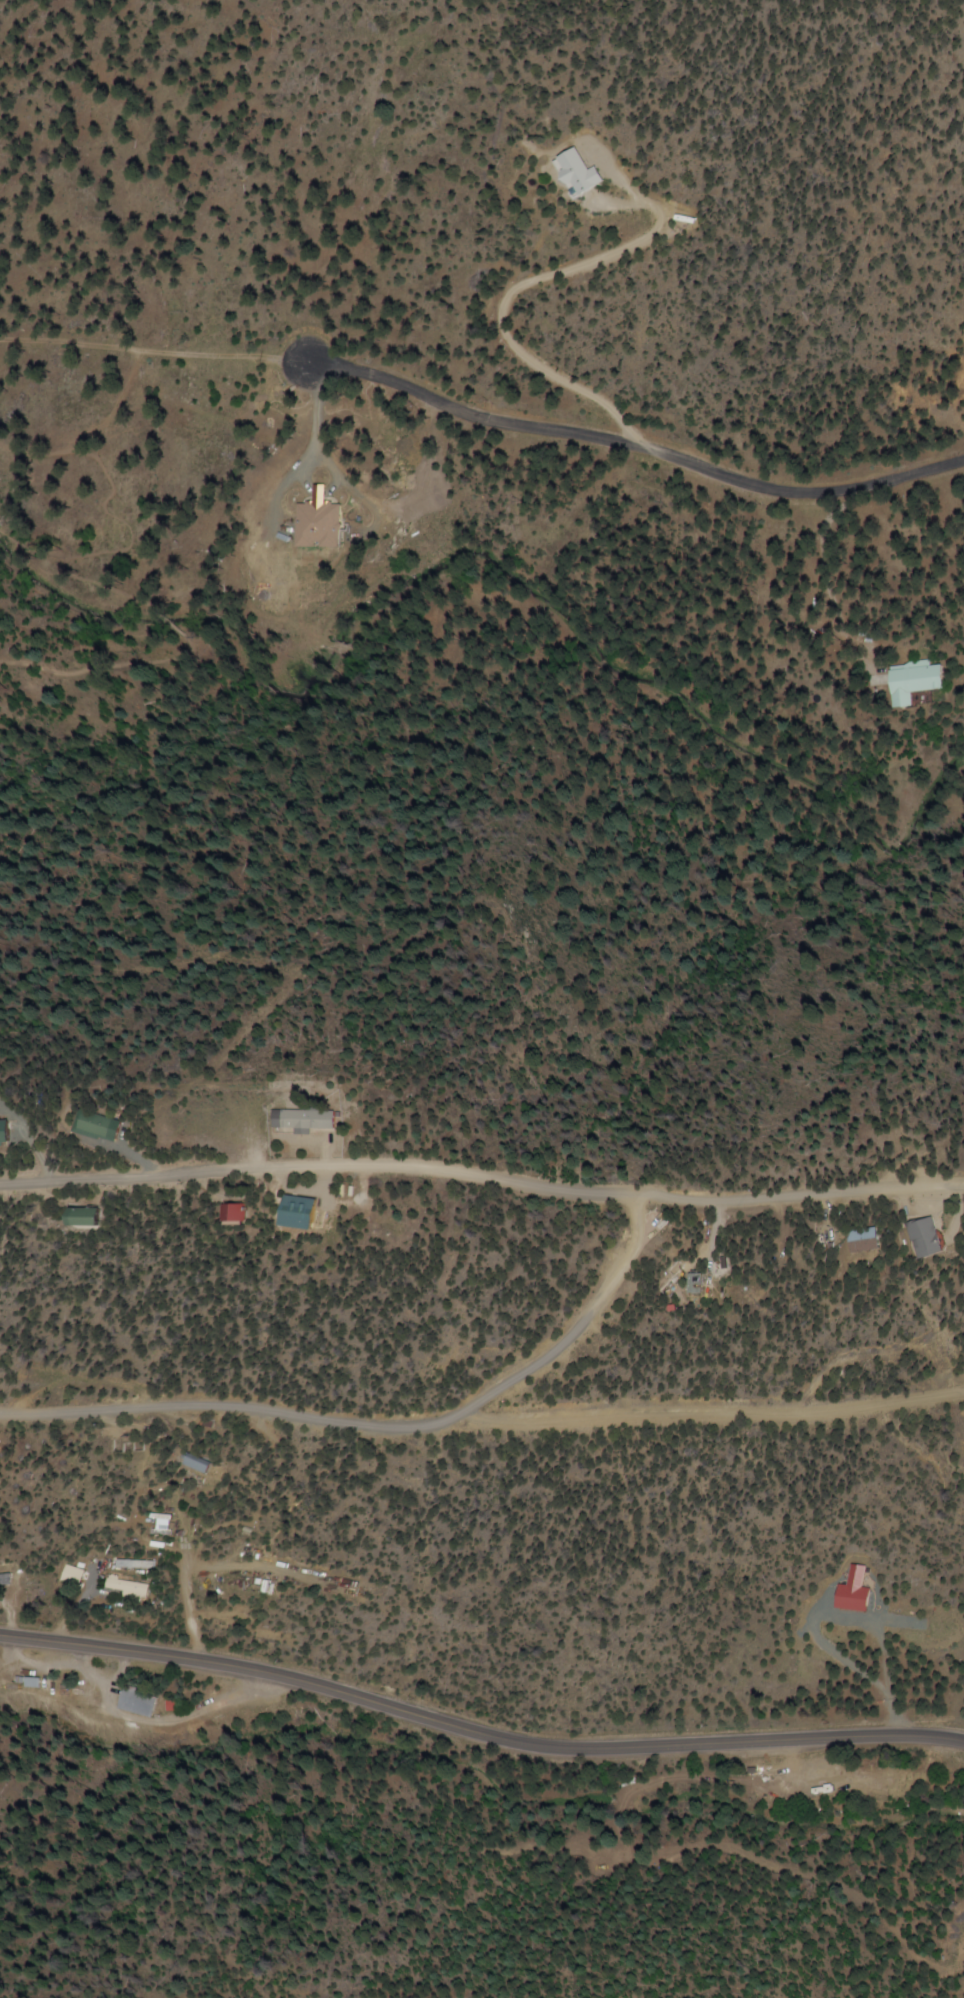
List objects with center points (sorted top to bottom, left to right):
building: (582, 174)
building: (329, 523)
building: (902, 681)
building: (305, 1119)
building: (99, 1124)
building: (6, 1131)
road: (483, 1200)
building: (302, 1212)
building: (236, 1214)
building: (89, 1216)
building: (933, 1238)
building: (868, 1239)
building: (700, 1283)
road: (180, 1340)
road: (368, 1447)
building: (198, 1465)
road: (64, 1489)
building: (74, 1576)
building: (5, 1580)
building: (131, 1588)
building: (854, 1598)
building: (39, 1682)
building: (91, 1696)
building: (144, 1701)
road: (477, 1734)

